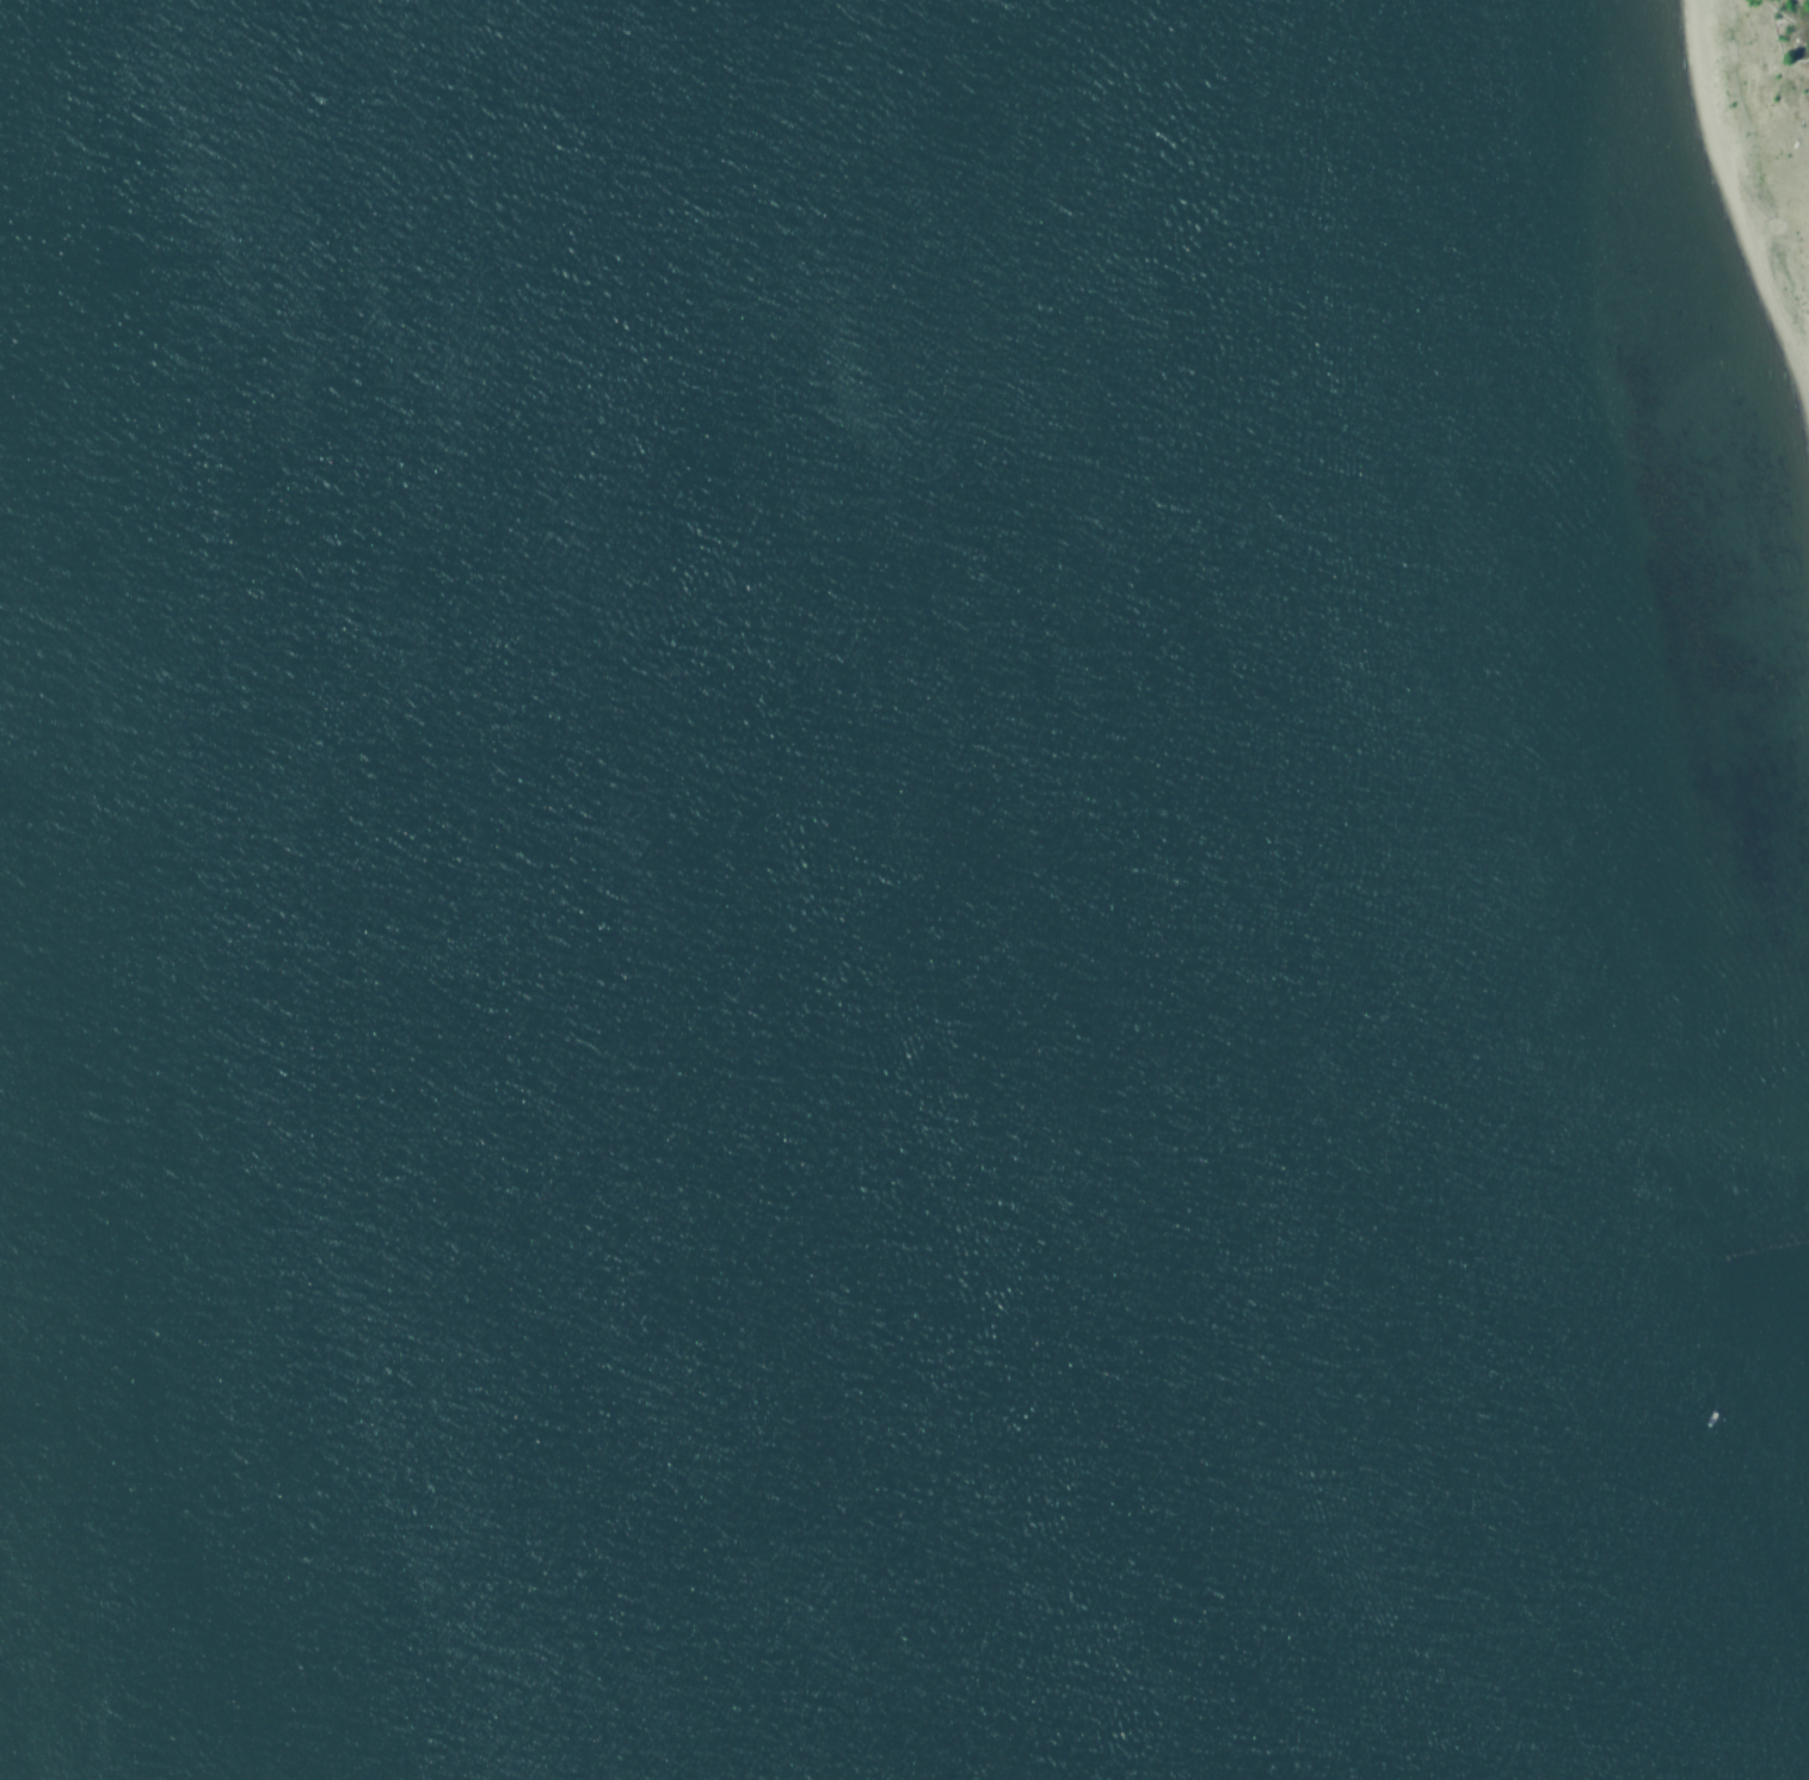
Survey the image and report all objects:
river: (891, 897)

